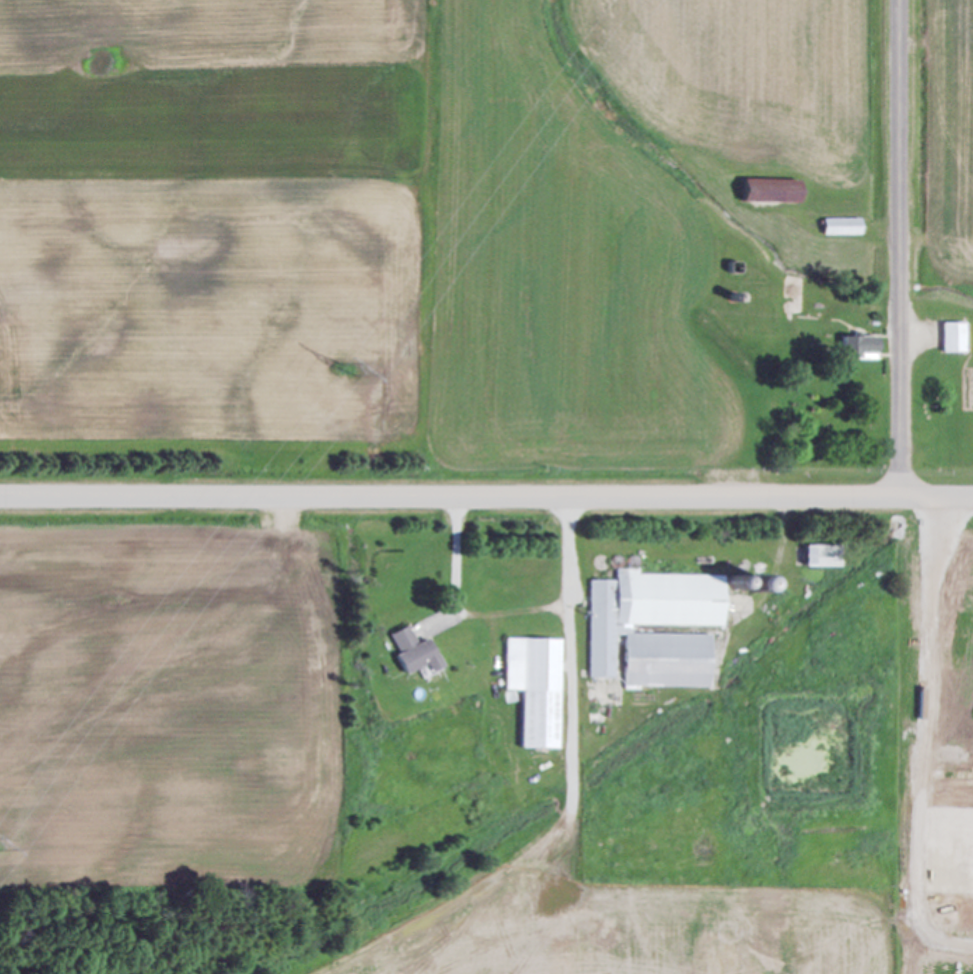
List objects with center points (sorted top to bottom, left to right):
building: (765, 193)
building: (837, 228)
road: (898, 247)
building: (949, 338)
building: (853, 348)
power tower: (357, 370)
road: (486, 496)
building: (818, 557)
road: (510, 610)
building: (659, 625)
building: (409, 653)
building: (531, 690)
solar farm: (666, 932)

